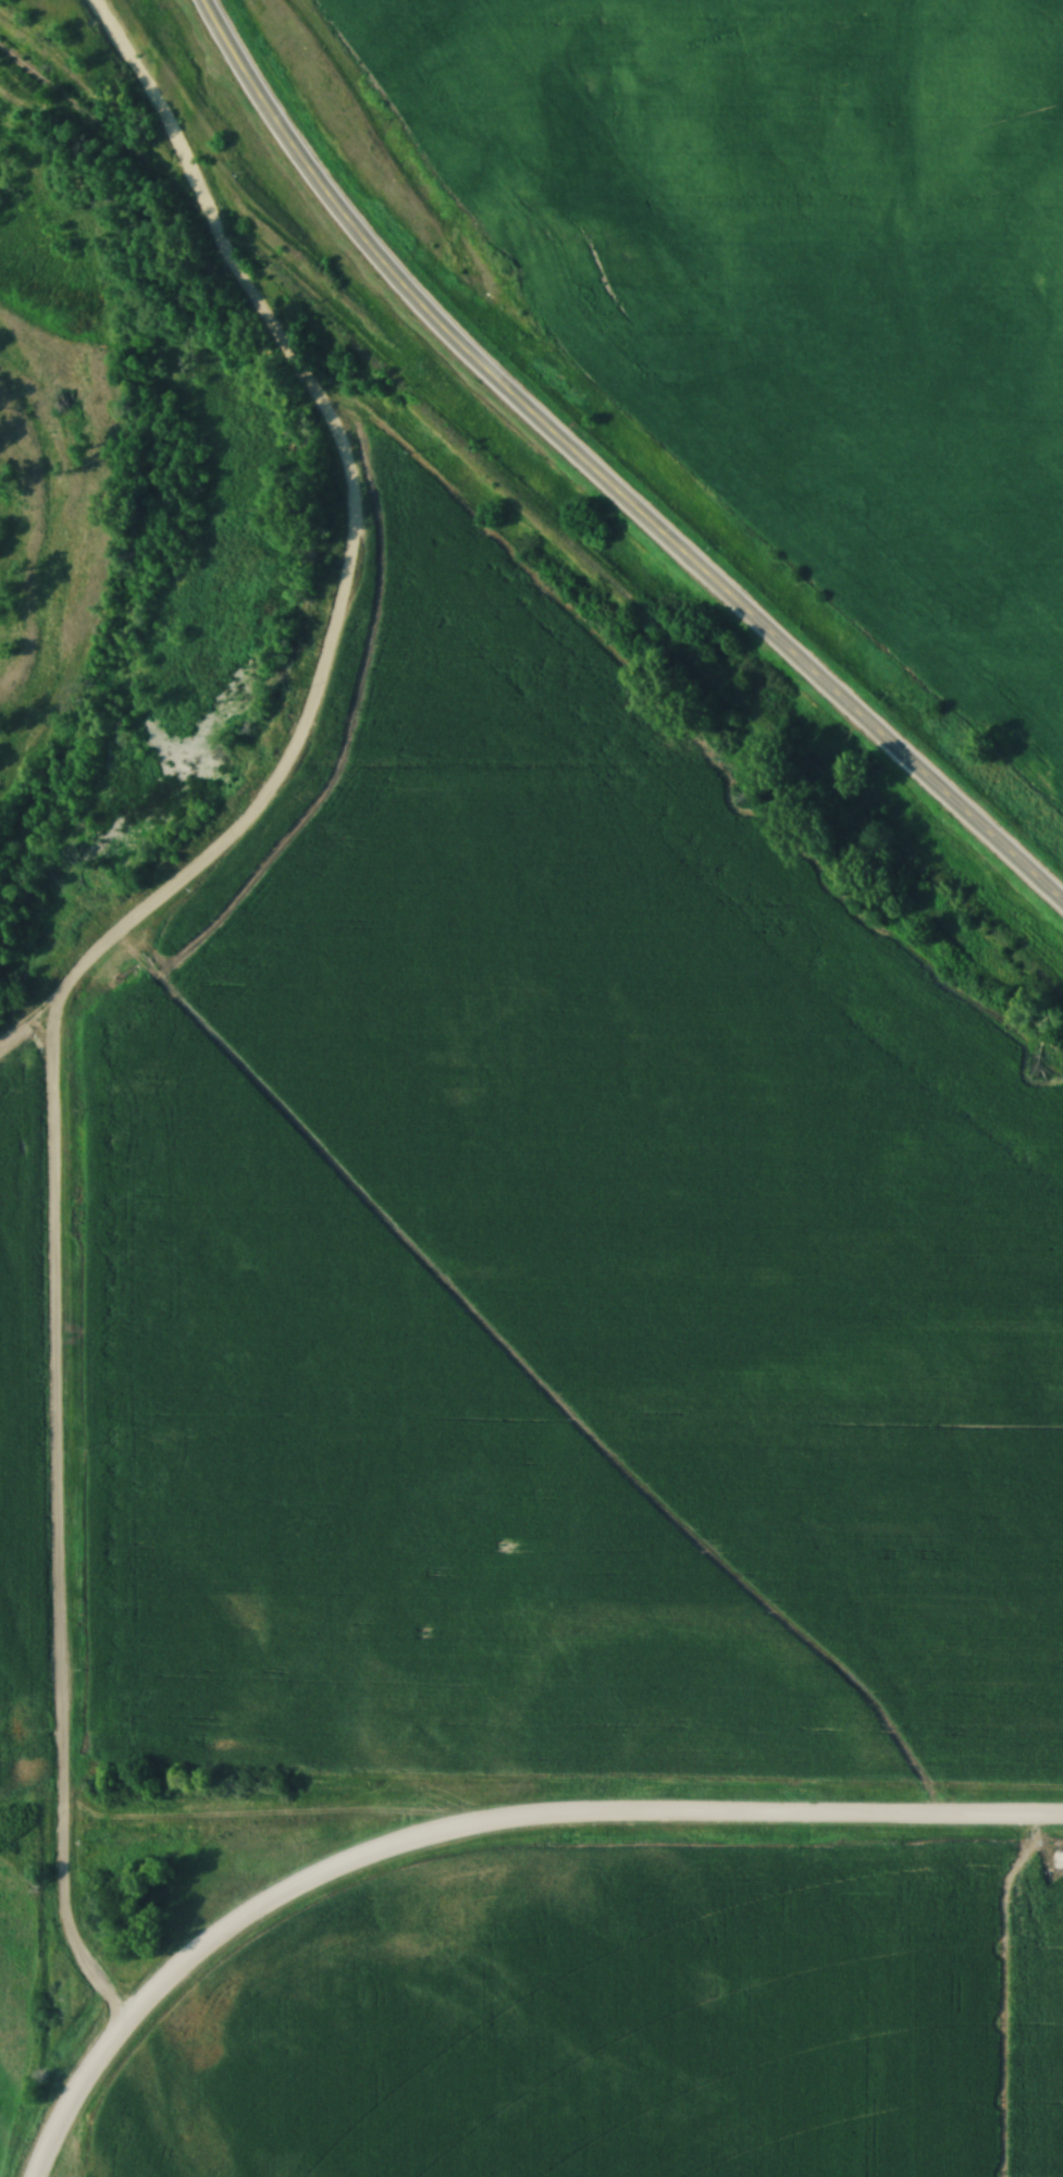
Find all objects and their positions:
road: (600, 480)
railway: (531, 602)
road: (53, 1028)
road: (567, 1820)

